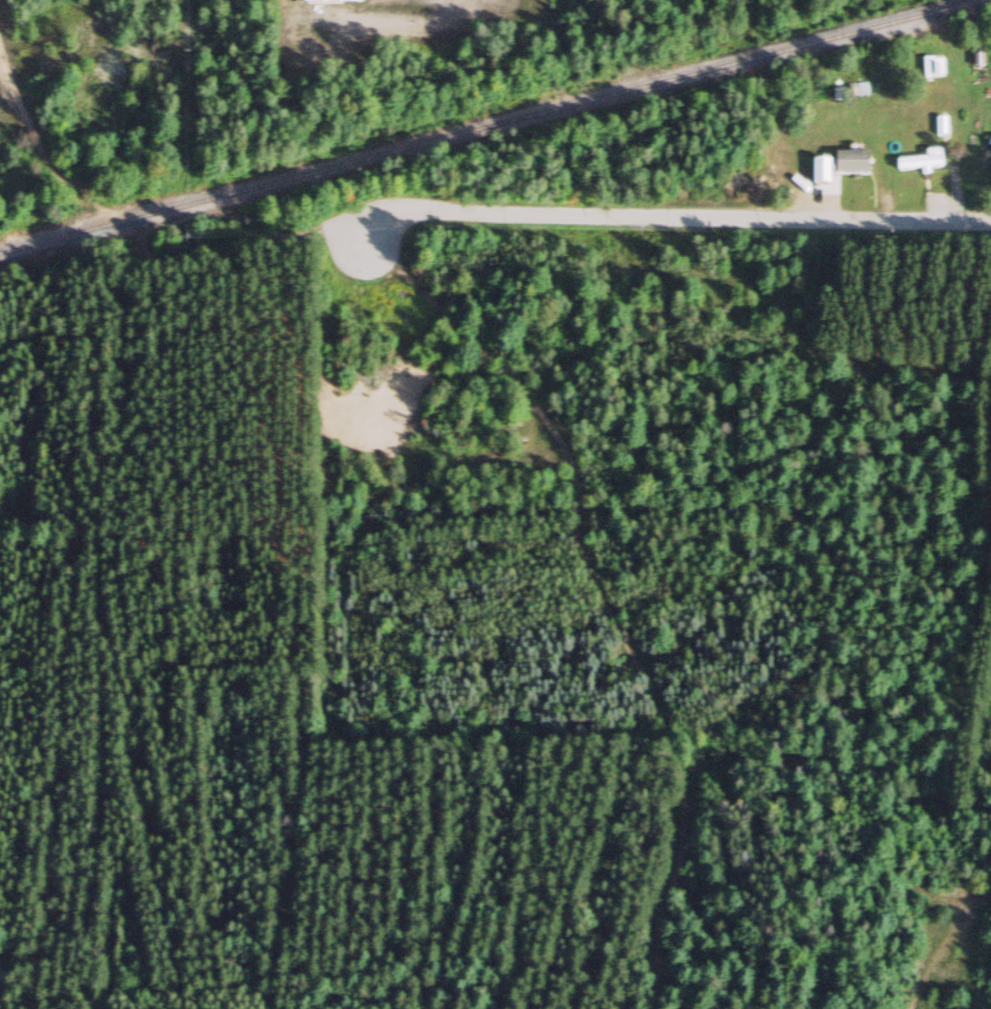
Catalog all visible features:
building: (340, 2)
building: (937, 67)
railway: (492, 126)
building: (925, 162)
building: (839, 167)
road: (668, 216)
road: (135, 247)
road: (597, 589)
road: (953, 911)

